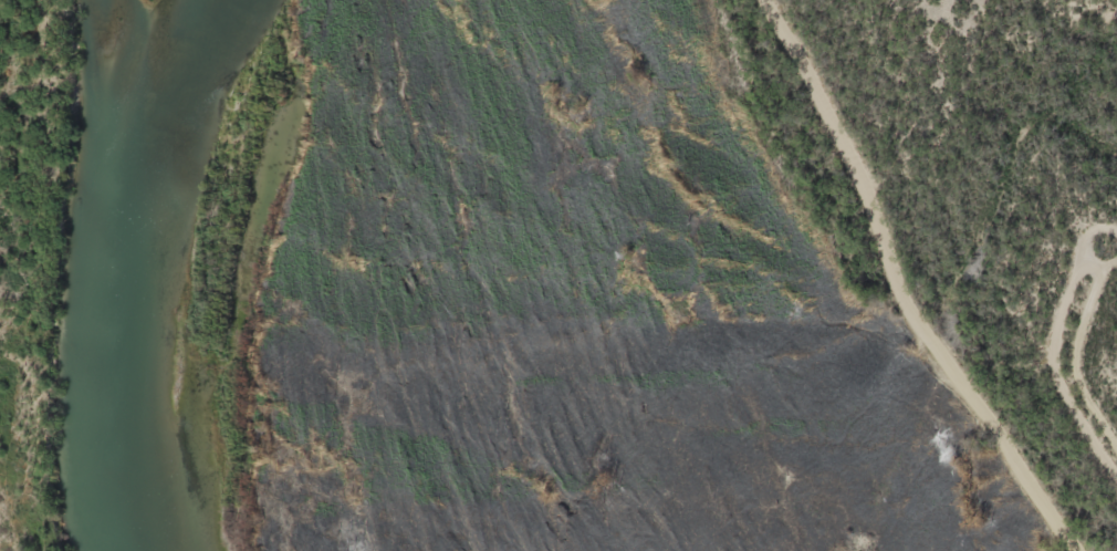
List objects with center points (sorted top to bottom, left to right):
river: (167, 275)
road: (911, 288)
road: (1063, 354)

